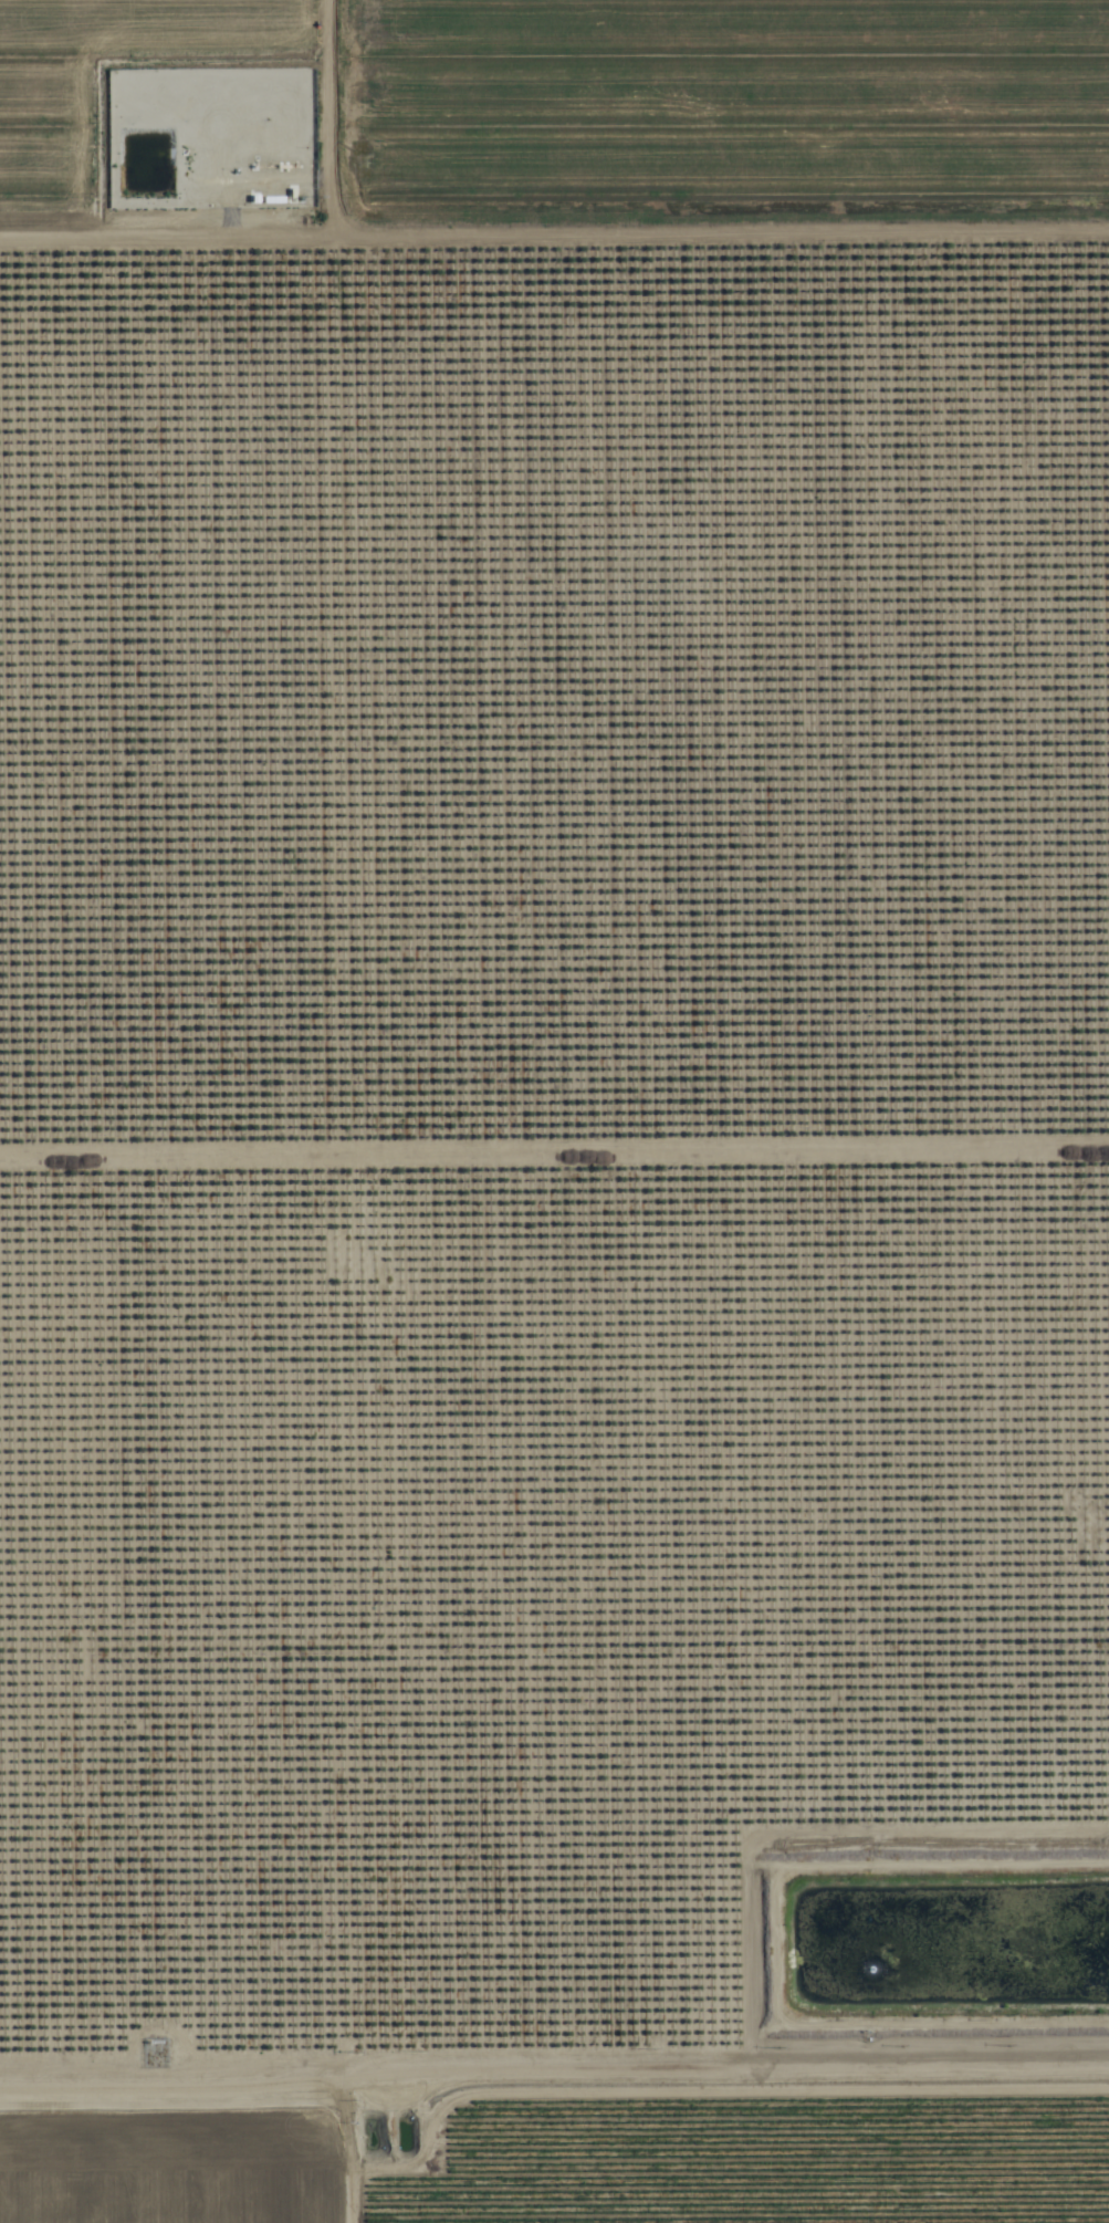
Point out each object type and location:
crop: (547, 102)
road: (554, 238)
wastewater plant: (830, 1954)
road: (554, 2055)
crop: (559, 2137)
wastewater plant: (383, 2139)

